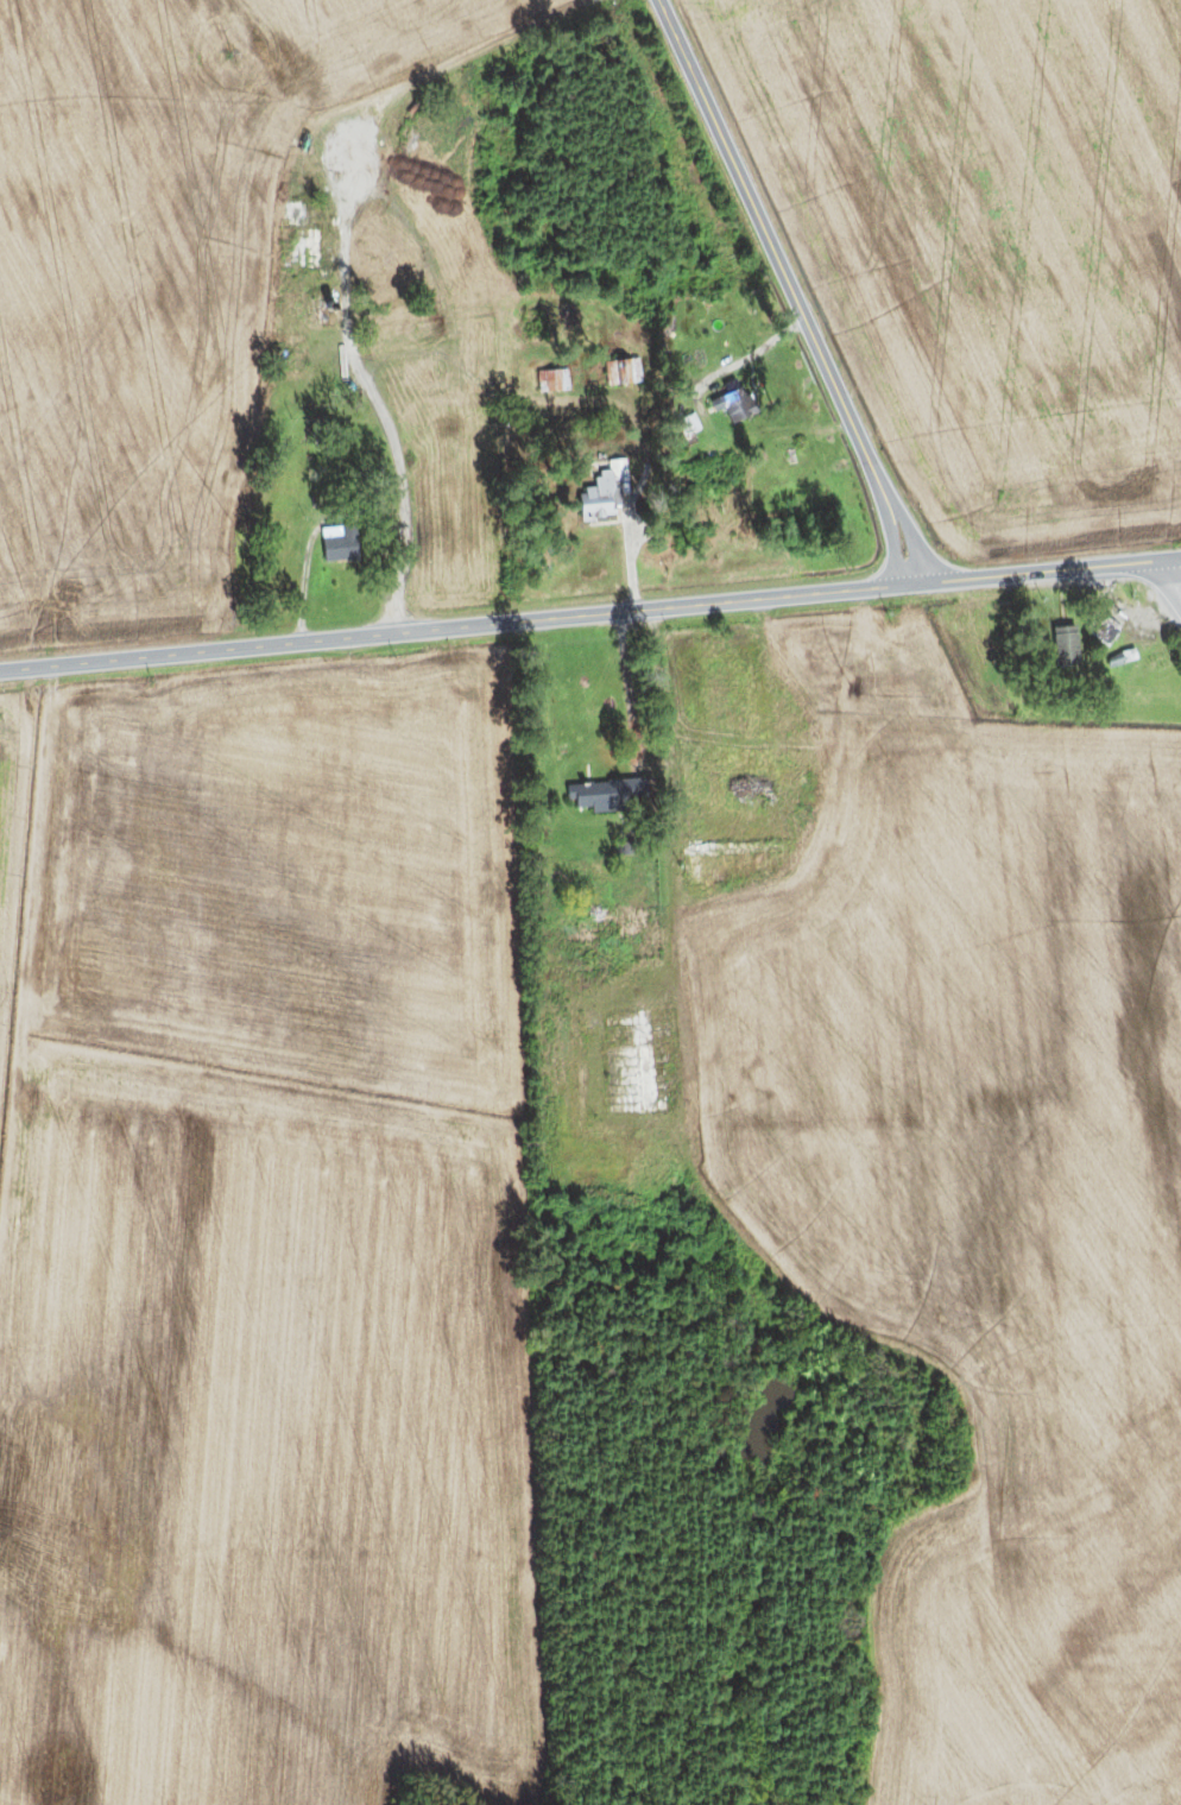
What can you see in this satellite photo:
building: (298, 234)
building: (372, 274)
road: (792, 289)
building: (396, 302)
building: (408, 329)
building: (283, 356)
building: (621, 371)
building: (551, 380)
building: (733, 404)
building: (604, 492)
building: (341, 545)
road: (1176, 556)
road: (1176, 567)
road: (586, 613)
building: (1103, 629)
building: (1065, 645)
building: (605, 795)
building: (732, 845)
building: (589, 907)
building: (646, 1064)

